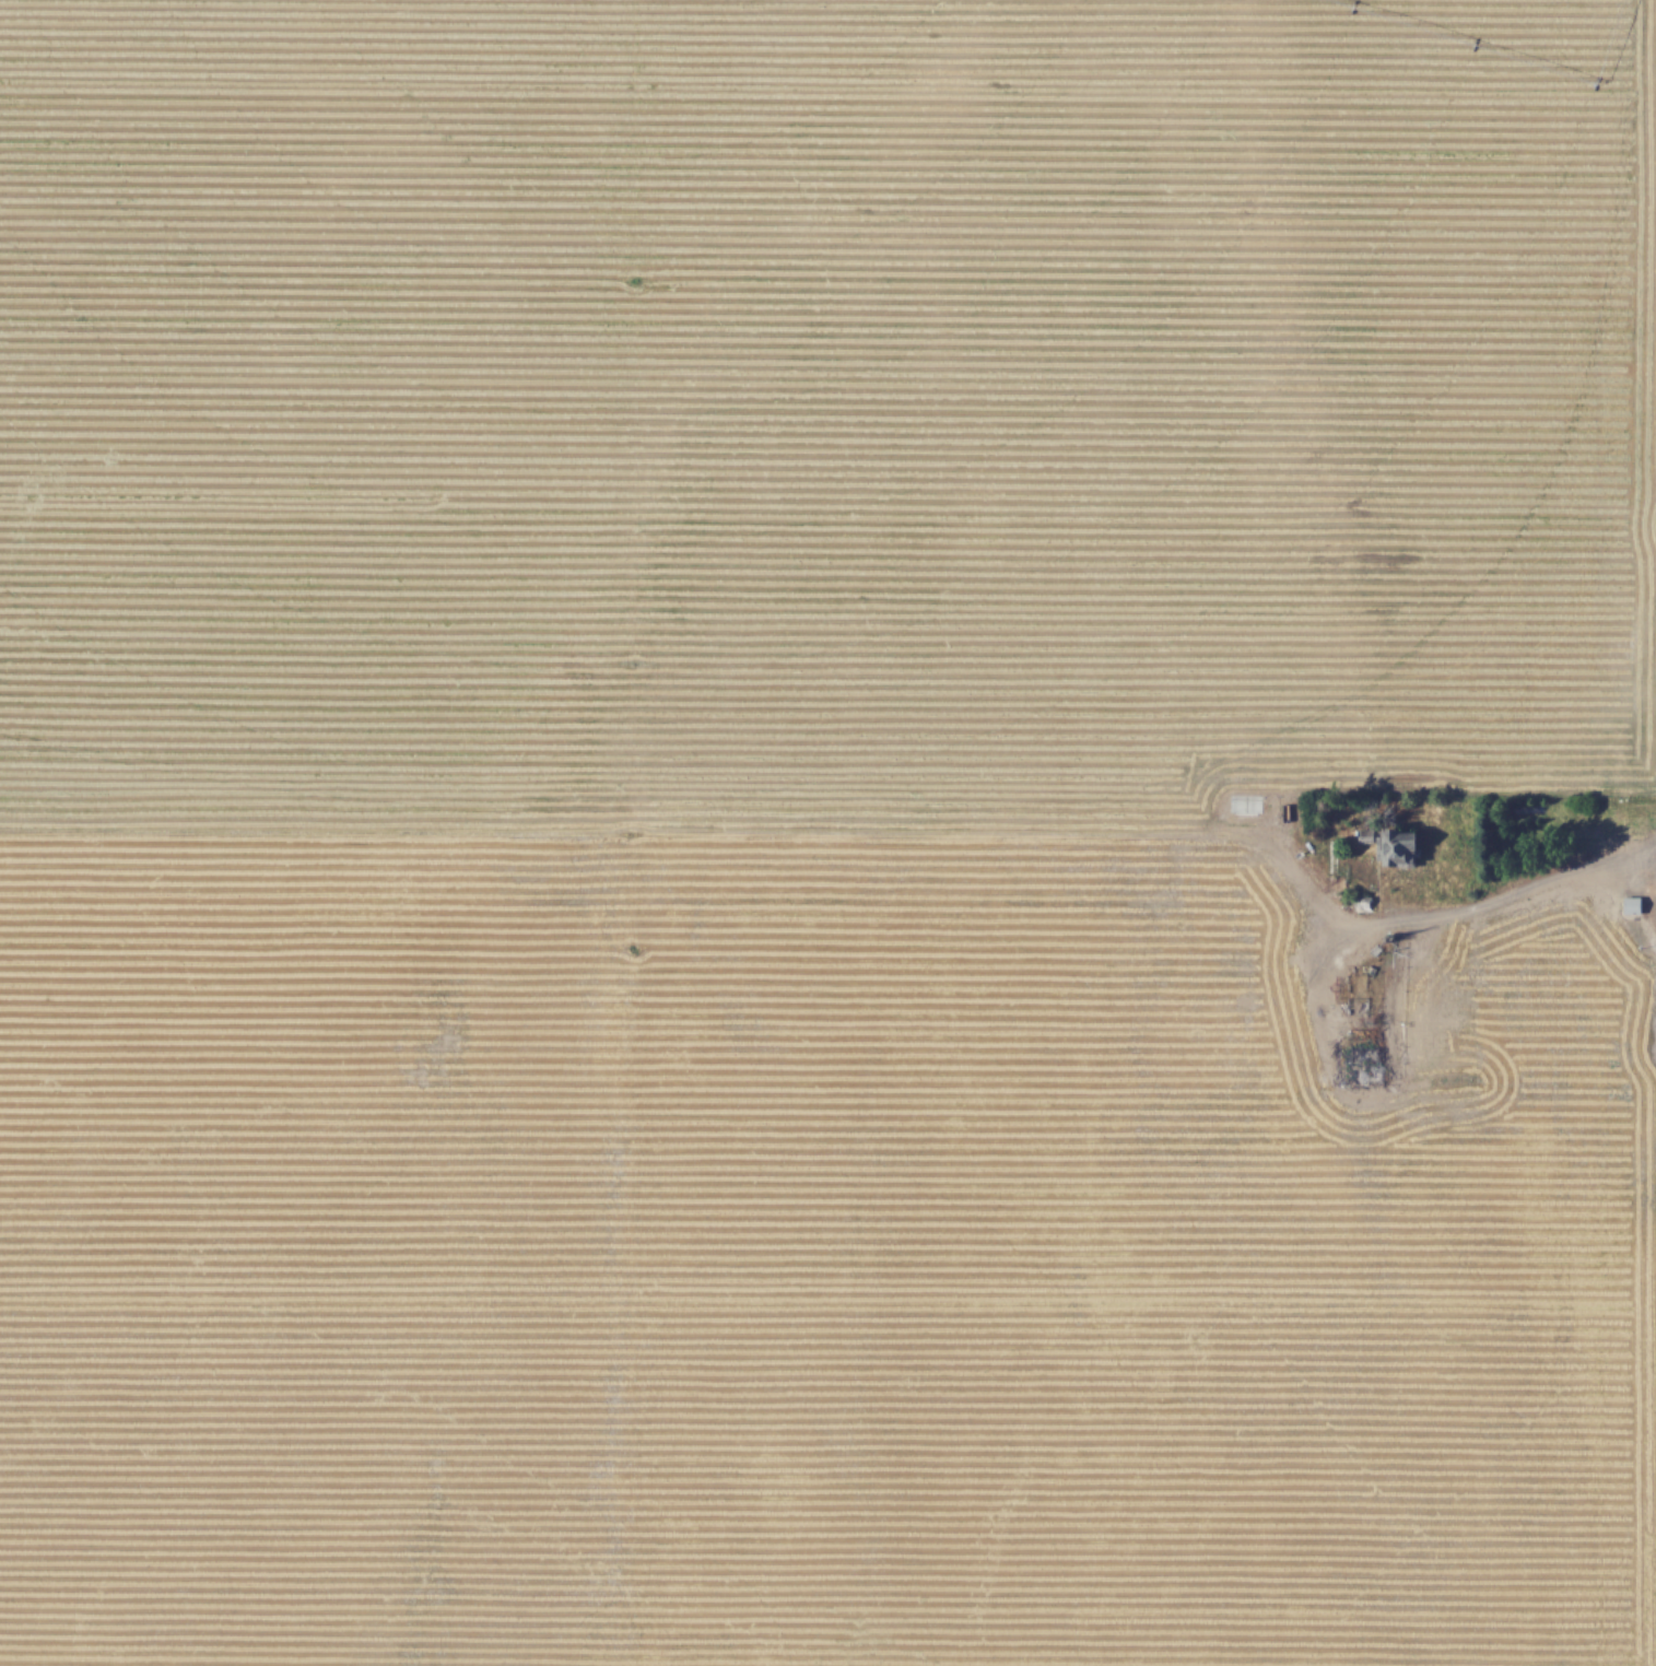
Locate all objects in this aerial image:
building: (1635, 904)
road: (1468, 908)
building: (1238, 1044)
building: (1372, 1065)

